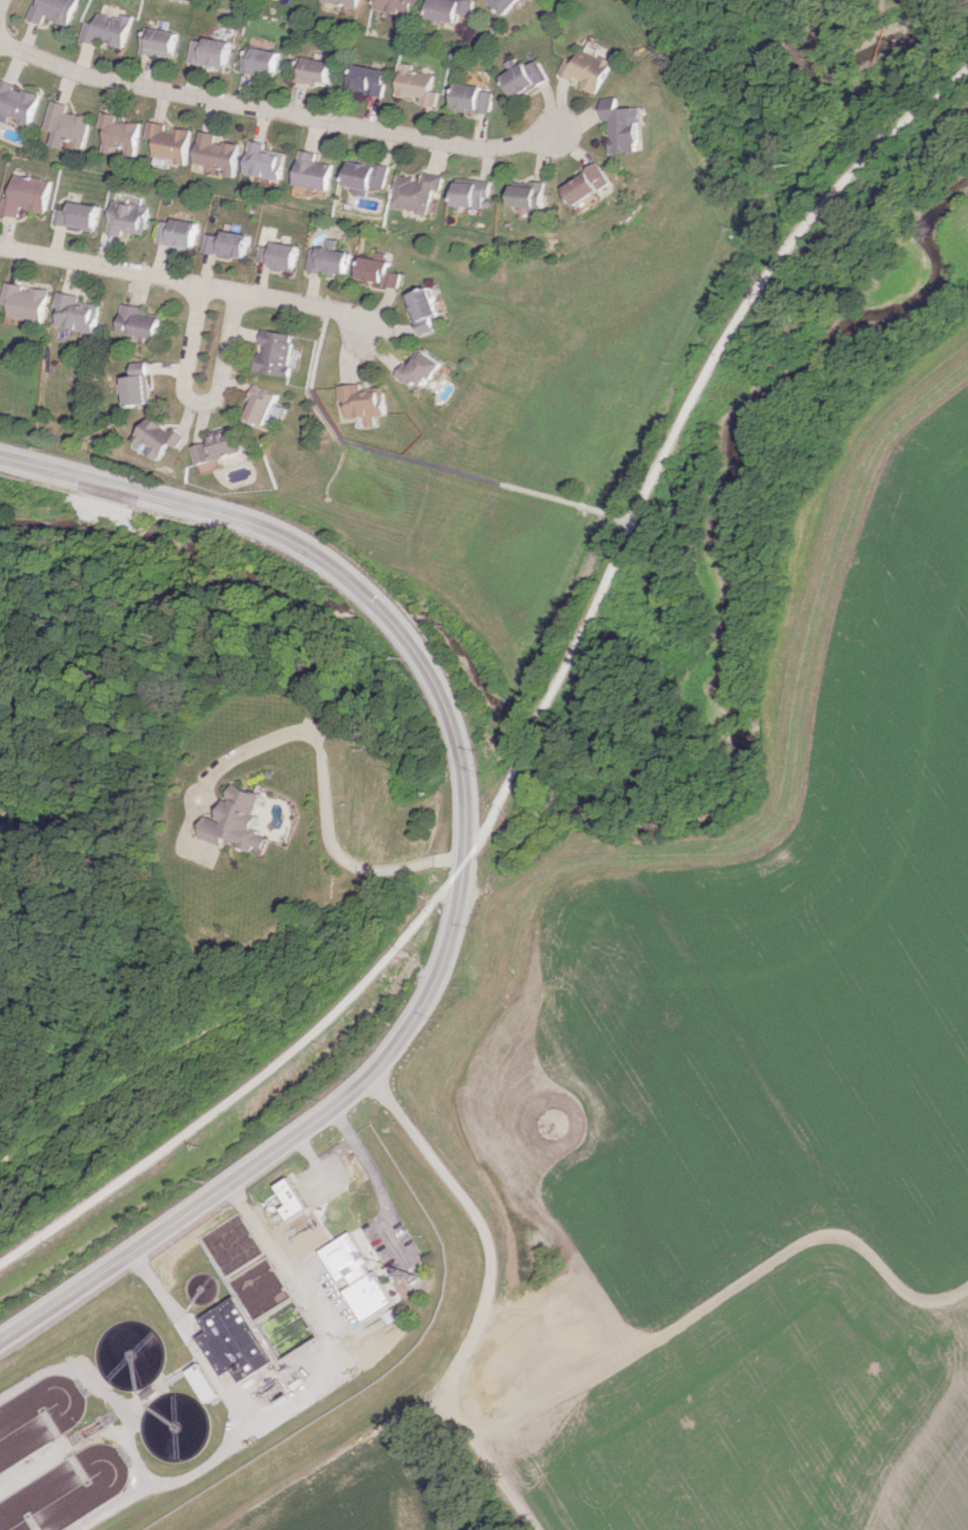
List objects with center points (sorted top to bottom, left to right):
building: (344, 2)
road: (2, 5)
building: (504, 5)
building: (394, 6)
building: (450, 9)
building: (53, 10)
building: (107, 29)
building: (159, 42)
building: (211, 52)
building: (261, 61)
building: (586, 69)
building: (315, 71)
building: (525, 77)
building: (367, 79)
building: (415, 85)
building: (471, 98)
building: (18, 101)
road: (280, 111)
building: (66, 125)
building: (626, 125)
building: (120, 134)
building: (171, 141)
building: (220, 153)
building: (269, 161)
building: (318, 171)
building: (371, 176)
building: (594, 184)
building: (421, 192)
building: (476, 193)
building: (26, 195)
building: (534, 195)
building: (77, 215)
building: (127, 217)
building: (179, 233)
building: (230, 243)
building: (282, 255)
building: (333, 258)
building: (381, 271)
road: (190, 282)
building: (0, 290)
building: (31, 301)
building: (427, 308)
building: (81, 312)
building: (142, 322)
building: (280, 352)
building: (426, 369)
building: (142, 385)
building: (369, 402)
road: (203, 405)
building: (266, 405)
building: (162, 437)
building: (224, 445)
road: (423, 462)
road: (328, 560)
road: (540, 718)
road: (322, 804)
road: (766, 817)
building: (237, 820)
crop: (772, 1116)
road: (285, 1144)
road: (319, 1160)
road: (382, 1184)
building: (297, 1199)
road: (480, 1222)
parking lot: (397, 1245)
building: (361, 1277)
road: (720, 1296)
building: (239, 1341)
wastewater plant: (242, 1345)
building: (206, 1382)
road: (105, 1390)
road: (304, 1397)
road: (333, 1458)
road: (214, 1462)
road: (488, 1463)
crop: (357, 1491)
road: (115, 1506)

